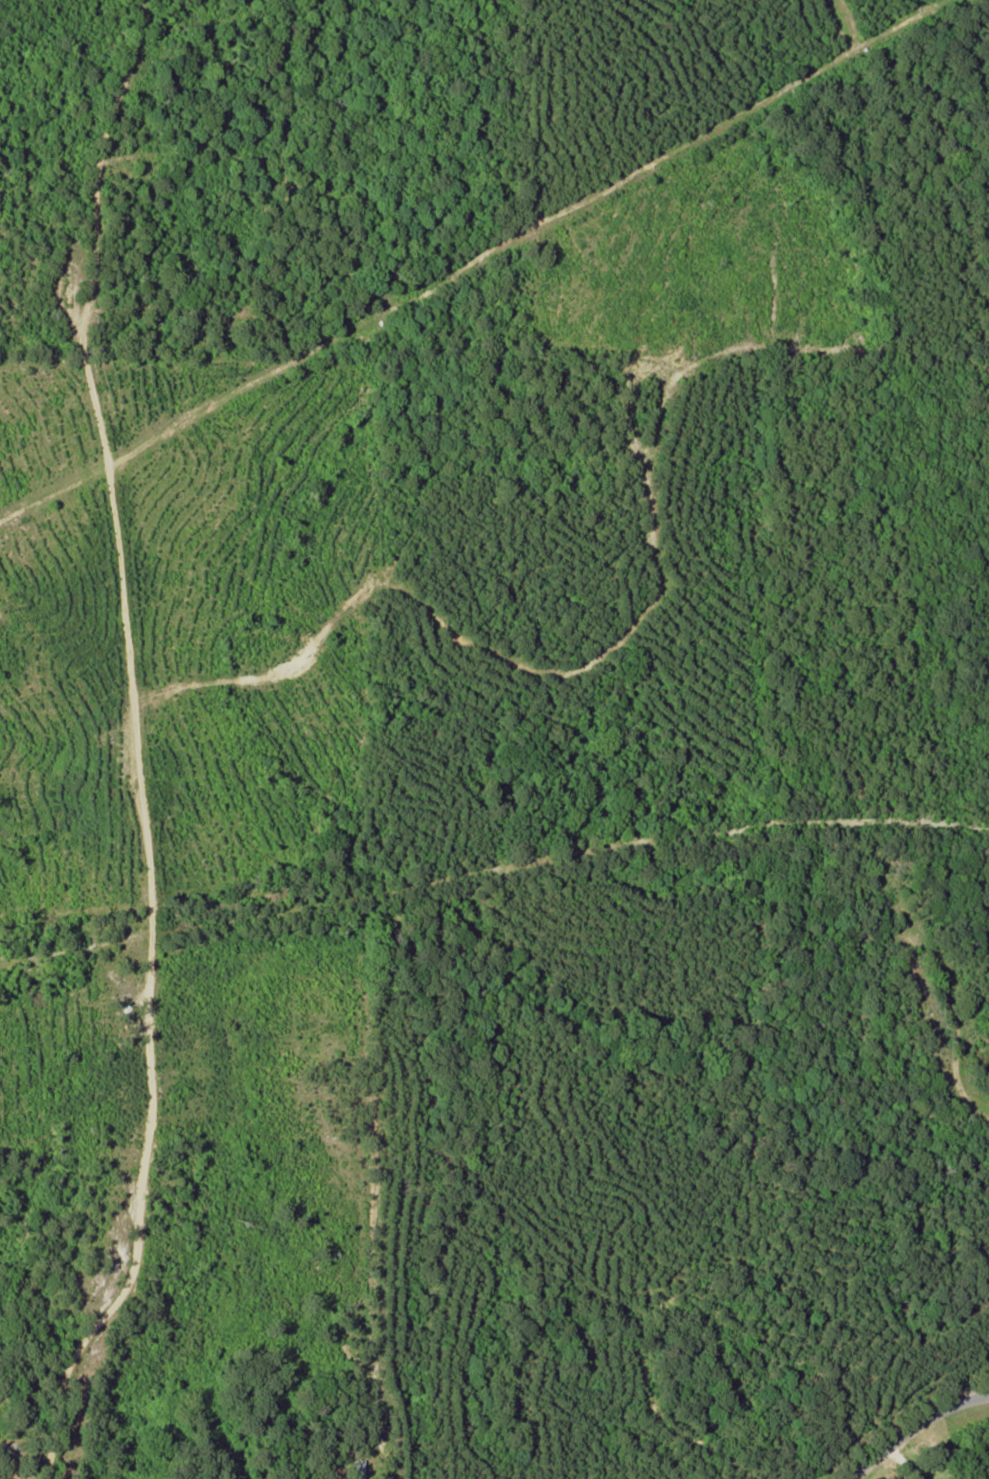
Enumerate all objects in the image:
road: (908, 1426)
building: (926, 1477)

